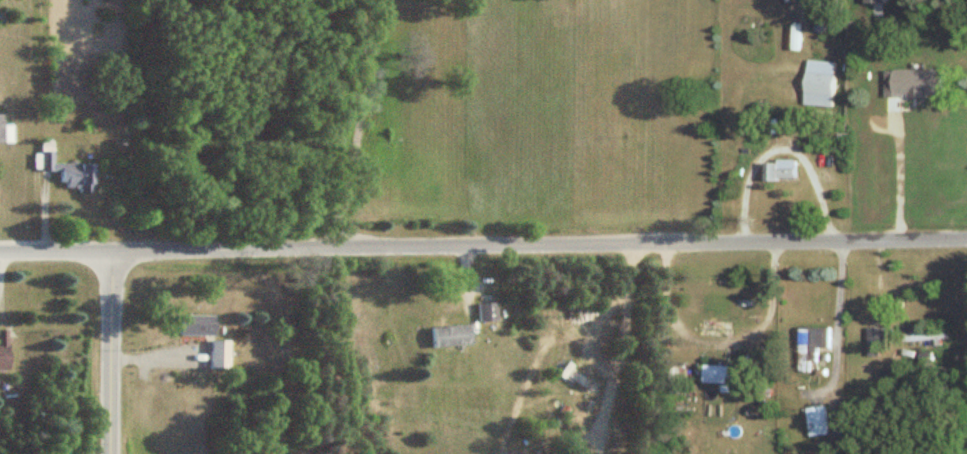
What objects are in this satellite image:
building: (913, 84)
building: (818, 85)
road: (361, 122)
building: (1, 129)
road: (778, 146)
building: (62, 170)
building: (780, 171)
road: (897, 175)
road: (483, 247)
road: (1, 261)
building: (485, 313)
road: (836, 325)
building: (192, 326)
road: (718, 333)
building: (925, 336)
building: (447, 337)
road: (618, 341)
building: (876, 342)
building: (811, 347)
building: (4, 349)
road: (111, 353)
building: (215, 356)
building: (720, 375)
building: (817, 422)
building: (573, 451)

